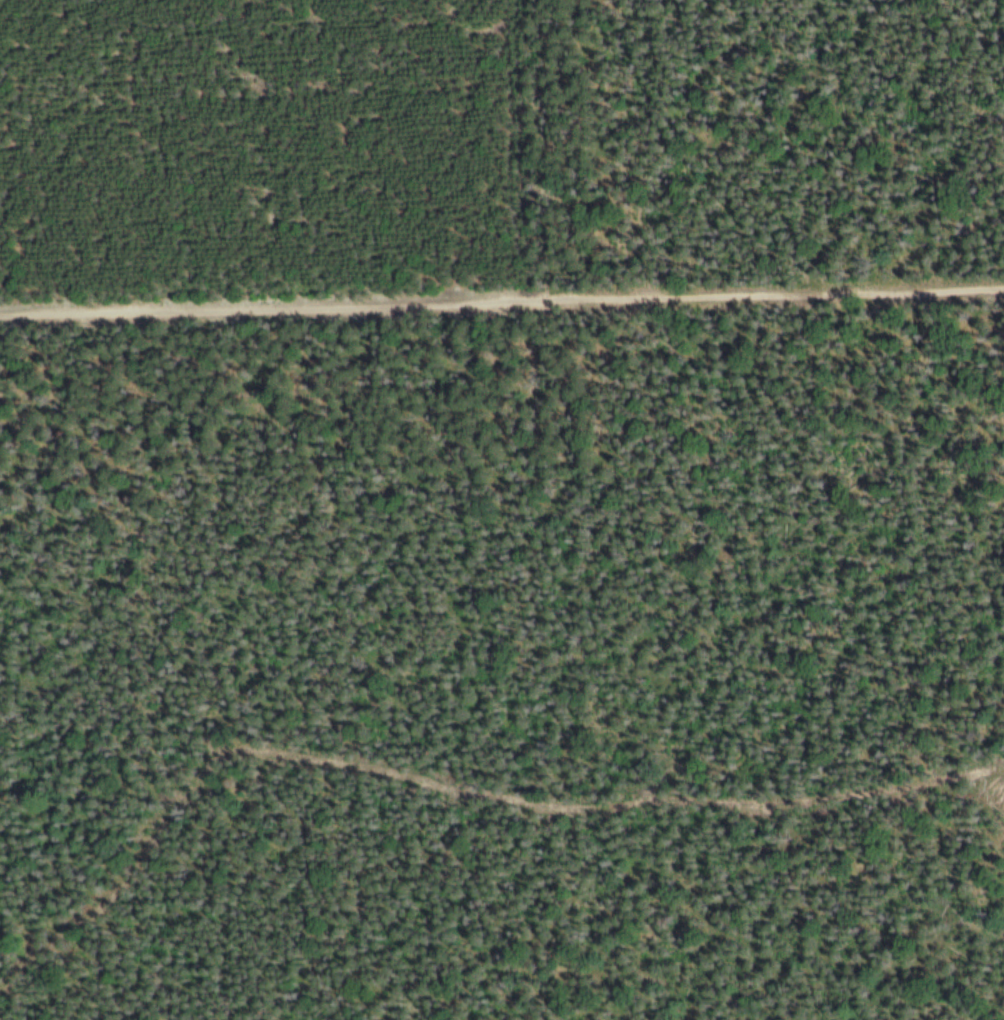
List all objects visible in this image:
road: (501, 298)

